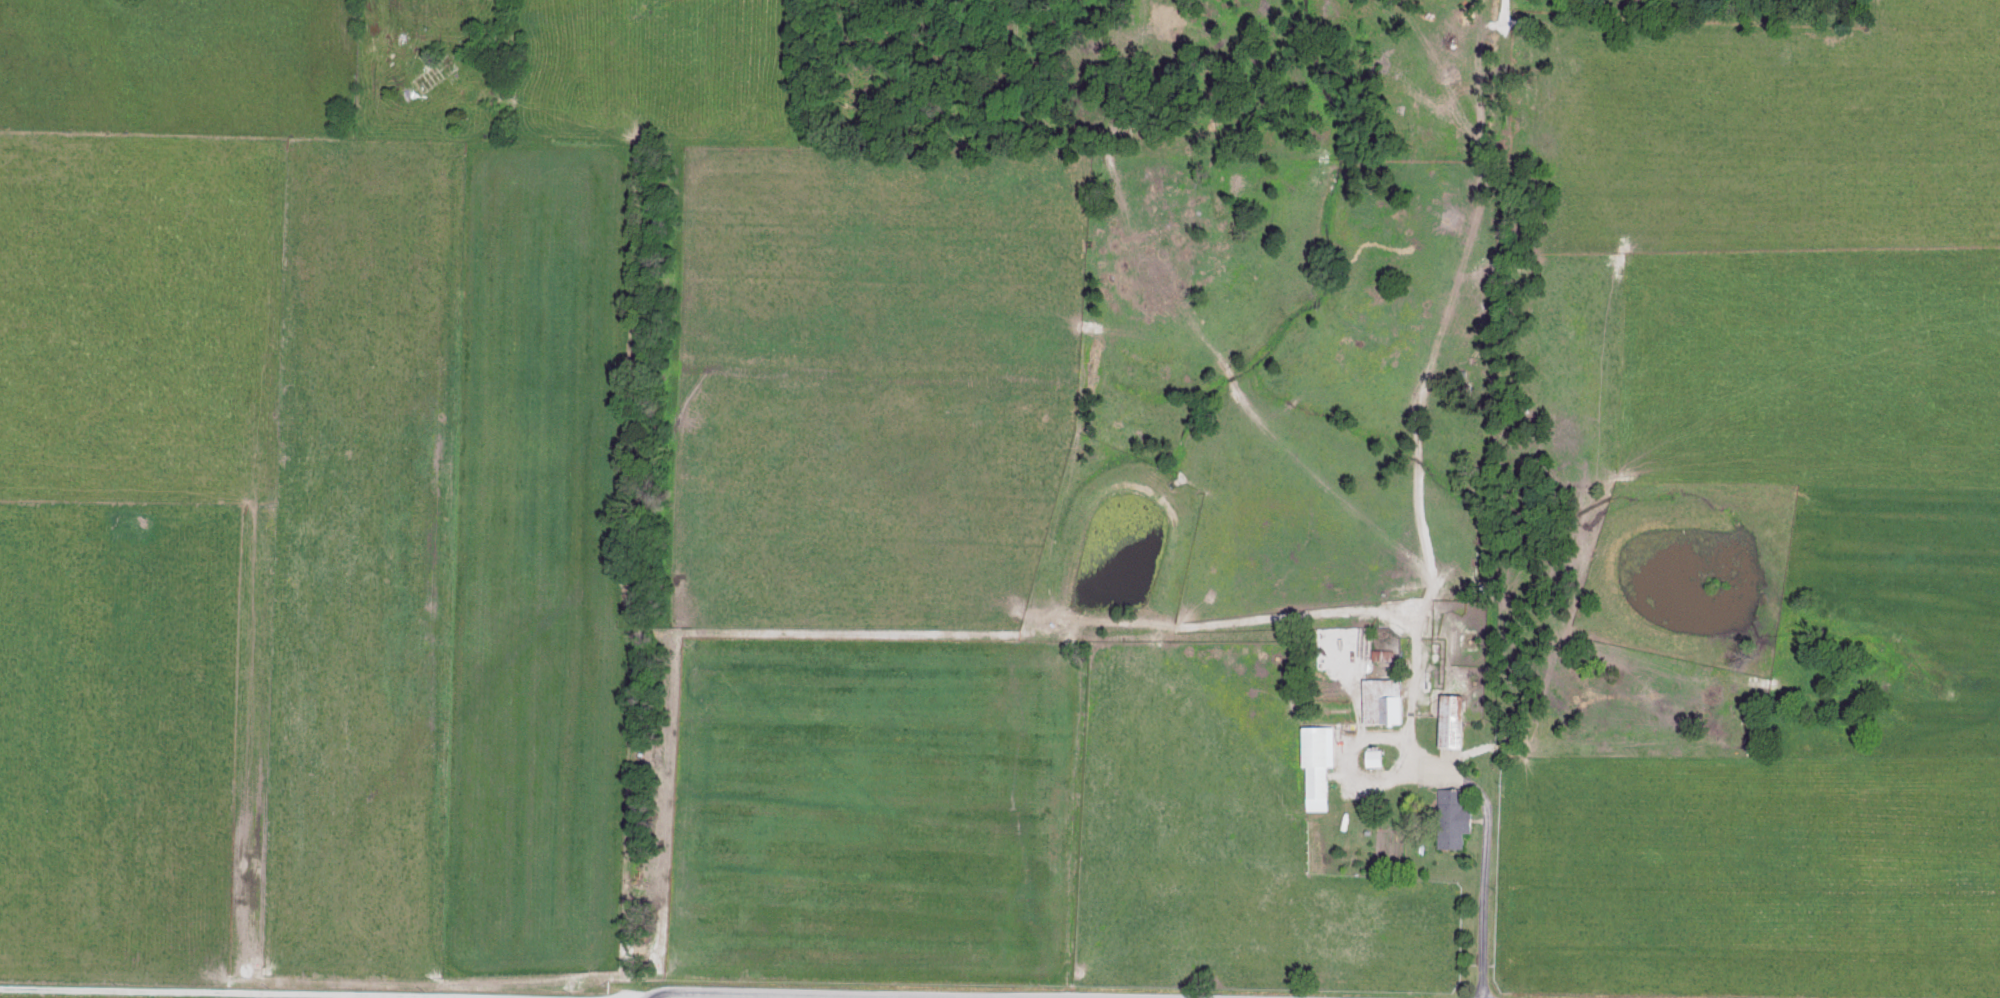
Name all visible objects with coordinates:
road: (1423, 562)
building: (1386, 699)
building: (1456, 719)
building: (1376, 756)
building: (1320, 762)
building: (1458, 817)
road: (186, 994)
road: (625, 997)

